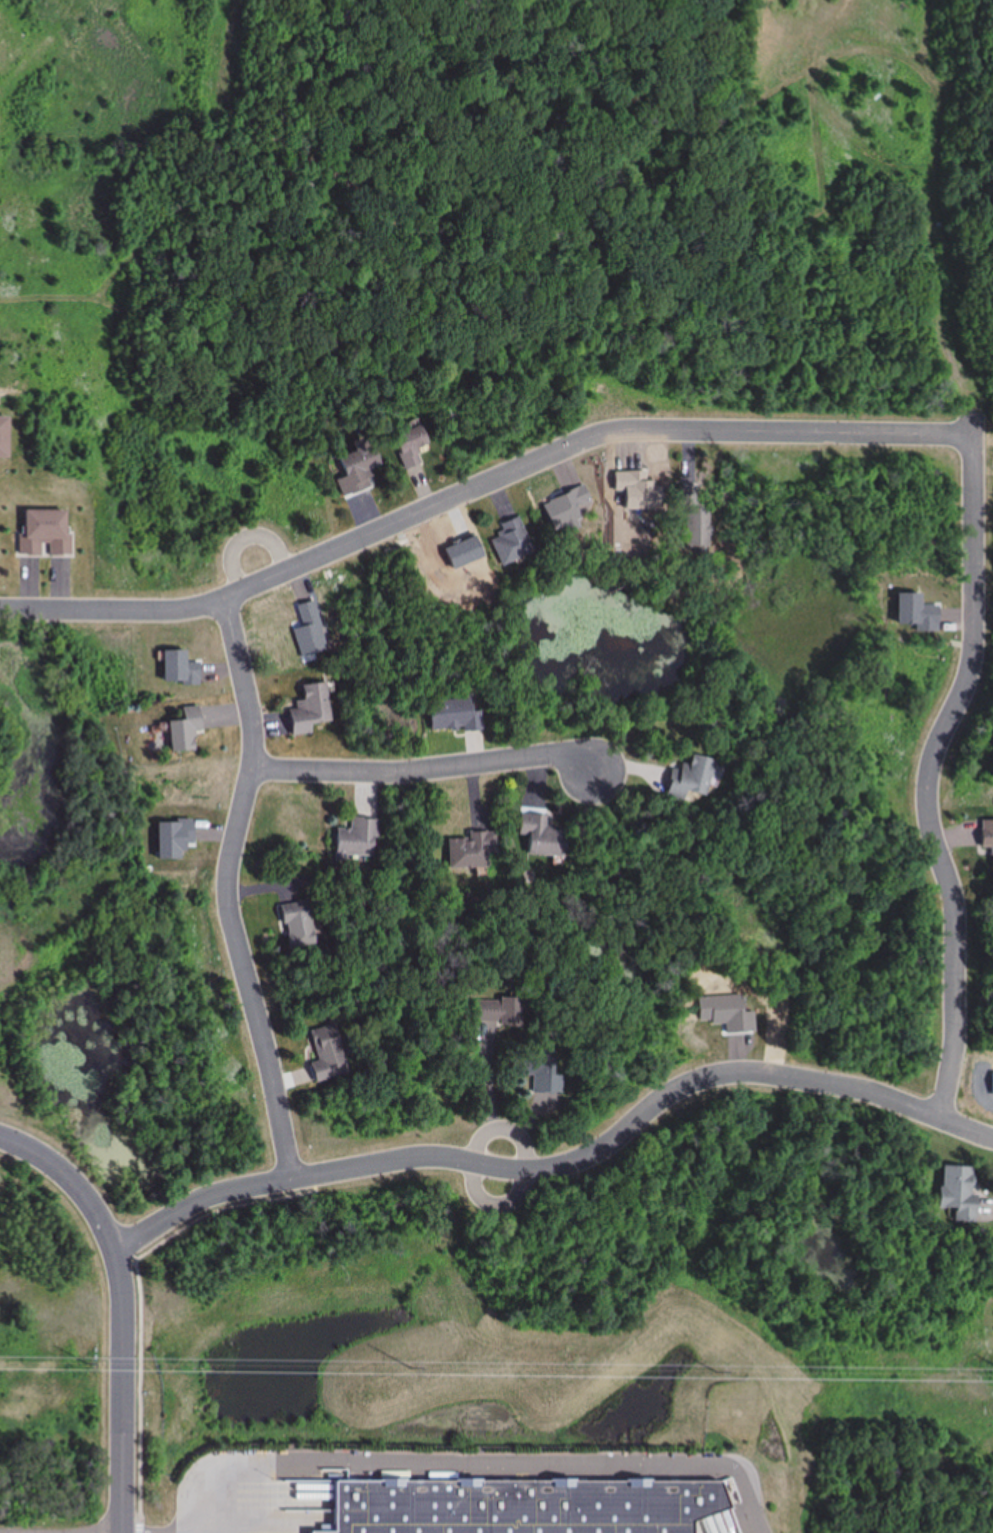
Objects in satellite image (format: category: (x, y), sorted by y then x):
road: (964, 252)
building: (2, 437)
building: (407, 447)
building: (354, 469)
road: (481, 489)
building: (692, 519)
building: (43, 534)
building: (510, 542)
park: (77, 672)
building: (307, 709)
building: (452, 717)
building: (183, 731)
road: (938, 748)
road: (437, 770)
park: (775, 778)
building: (687, 779)
building: (541, 836)
building: (986, 837)
building: (355, 840)
building: (471, 852)
road: (229, 890)
building: (296, 926)
building: (493, 1012)
building: (327, 1054)
building: (539, 1071)
park: (96, 1075)
road: (568, 1165)
building: (956, 1193)
park: (829, 1197)
road: (122, 1252)
power tower: (87, 1363)
power tower: (411, 1367)
power tower: (717, 1371)
road: (469, 1462)
road: (127, 1483)
building: (521, 1507)

